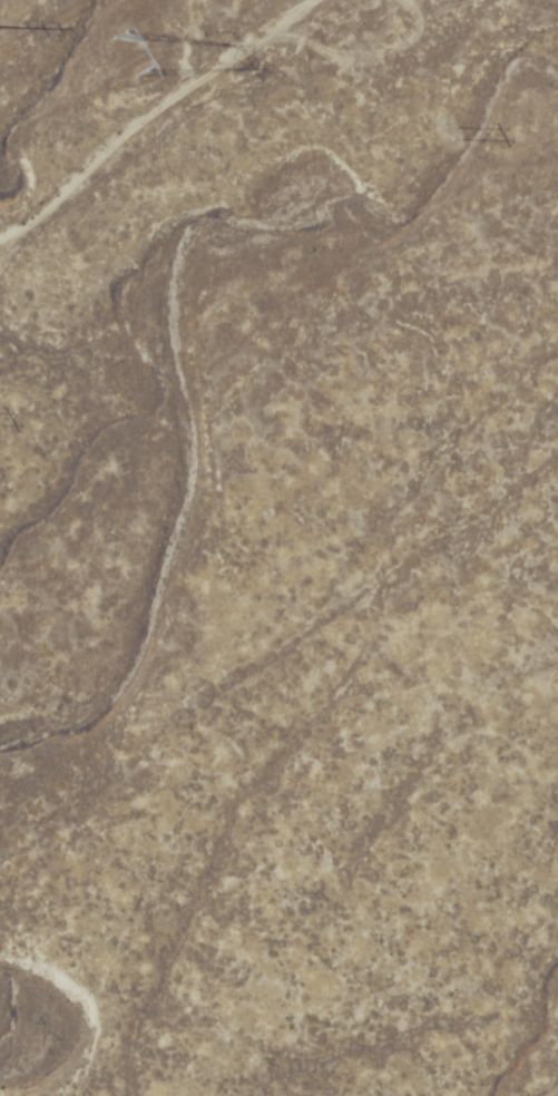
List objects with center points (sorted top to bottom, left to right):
power tower: (141, 52)
power tower: (458, 140)

